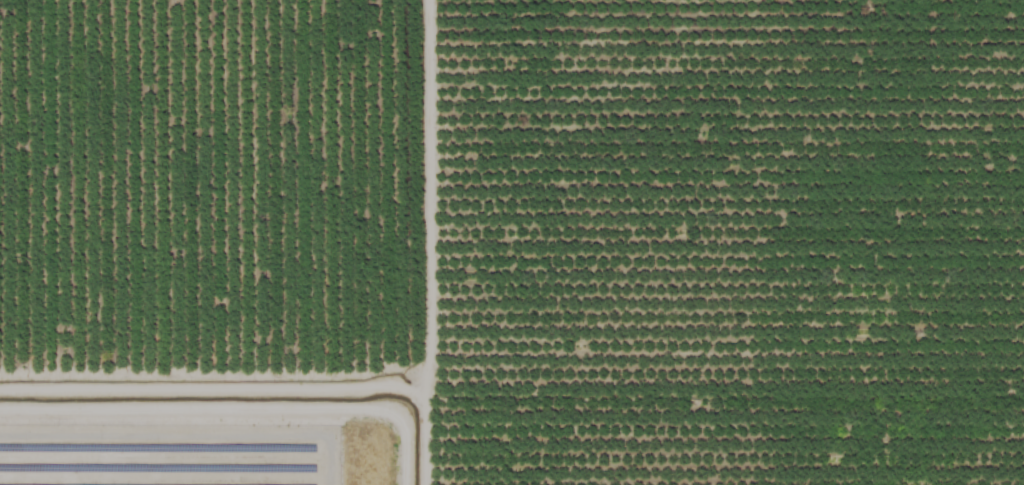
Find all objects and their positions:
crop: (512, 242)
road: (245, 405)

